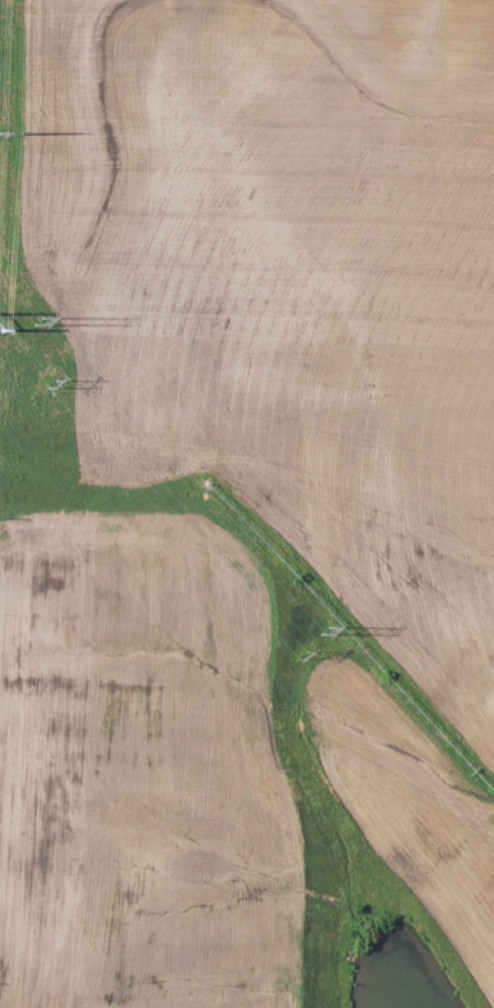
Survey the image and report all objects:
power tower: (1, 135)
power tower: (36, 321)
power tower: (47, 384)
power tower: (324, 630)
power tower: (301, 654)

